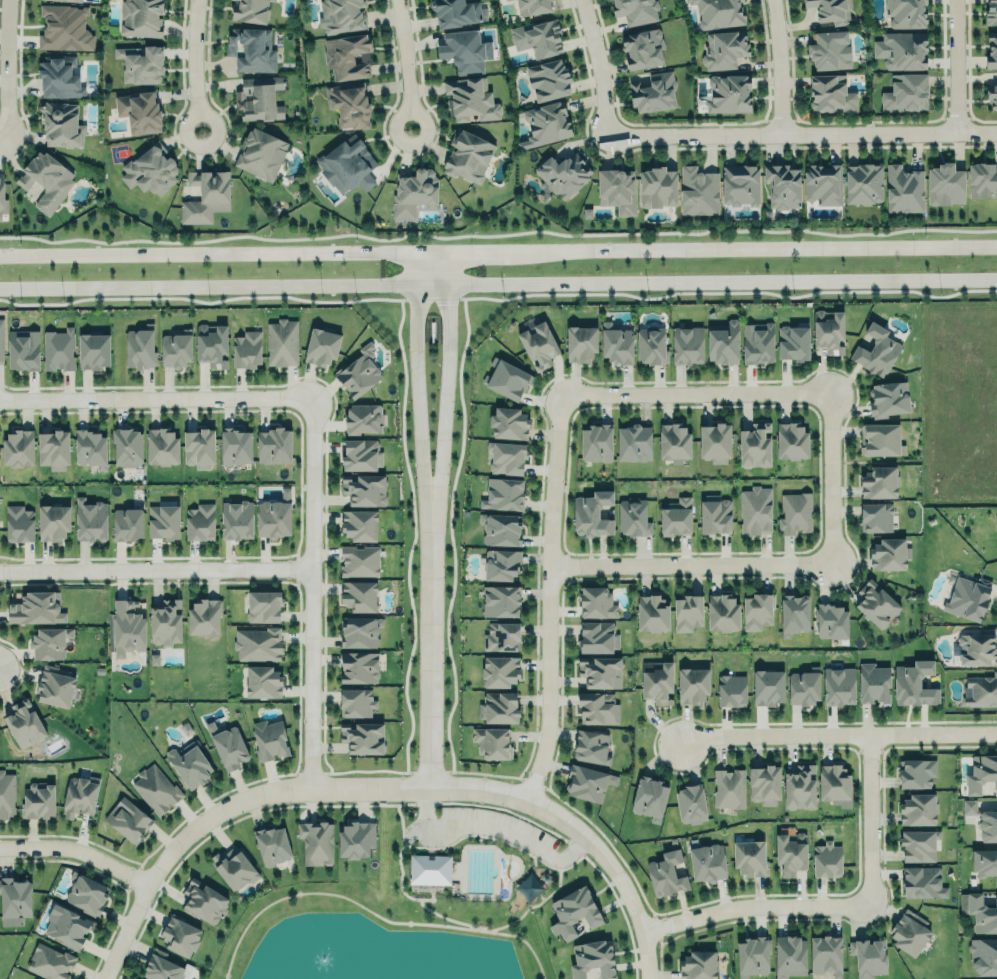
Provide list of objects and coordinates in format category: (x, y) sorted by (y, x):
building: (73, 0)
building: (506, 0)
building: (533, 6)
building: (250, 10)
building: (636, 10)
building: (830, 10)
building: (718, 12)
building: (457, 13)
building: (907, 13)
building: (991, 13)
building: (343, 15)
building: (142, 18)
building: (65, 28)
building: (538, 38)
building: (643, 47)
building: (252, 49)
building: (724, 50)
building: (465, 51)
building: (902, 51)
building: (992, 51)
building: (830, 52)
road: (402, 55)
road: (192, 56)
building: (349, 56)
building: (142, 63)
road: (593, 65)
road: (776, 65)
road: (955, 66)
road: (2, 70)
building: (59, 77)
building: (548, 79)
building: (653, 93)
building: (730, 93)
building: (831, 94)
building: (906, 94)
building: (992, 96)
building: (259, 98)
building: (470, 100)
building: (349, 104)
building: (140, 111)
road: (211, 115)
building: (548, 123)
building: (61, 124)
road: (395, 128)
road: (801, 132)
road: (1, 141)
building: (262, 154)
building: (468, 154)
building: (347, 166)
building: (151, 171)
building: (564, 175)
building: (983, 180)
building: (47, 181)
building: (823, 184)
building: (864, 184)
building: (741, 185)
building: (783, 185)
building: (945, 185)
building: (659, 189)
building: (903, 189)
building: (617, 190)
building: (699, 192)
building: (2, 194)
building: (414, 194)
building: (206, 196)
road: (576, 248)
road: (94, 253)
road: (16, 255)
road: (498, 282)
building: (829, 331)
building: (1, 341)
building: (281, 341)
building: (538, 343)
building: (724, 343)
building: (757, 343)
building: (793, 344)
building: (211, 345)
building: (320, 345)
building: (582, 345)
building: (617, 345)
building: (652, 346)
building: (688, 346)
building: (139, 347)
building: (23, 348)
building: (175, 348)
building: (245, 348)
building: (57, 349)
building: (92, 349)
building: (876, 351)
building: (358, 372)
road: (415, 375)
road: (446, 375)
building: (506, 377)
road: (695, 394)
building: (888, 397)
road: (154, 398)
building: (364, 418)
building: (509, 421)
building: (880, 437)
building: (791, 441)
building: (273, 442)
building: (674, 442)
building: (596, 443)
building: (714, 443)
building: (161, 444)
building: (235, 444)
building: (634, 444)
building: (126, 445)
building: (198, 445)
building: (17, 446)
building: (90, 446)
building: (53, 447)
building: (755, 447)
building: (361, 452)
building: (506, 455)
road: (831, 478)
building: (879, 482)
building: (364, 489)
building: (503, 492)
building: (755, 509)
building: (795, 511)
building: (592, 512)
building: (715, 514)
building: (875, 515)
building: (633, 516)
building: (89, 517)
building: (273, 517)
building: (675, 517)
building: (236, 519)
building: (52, 520)
building: (163, 520)
building: (200, 520)
building: (18, 521)
building: (127, 522)
building: (358, 522)
building: (501, 529)
building: (889, 554)
building: (359, 560)
building: (501, 561)
road: (691, 565)
road: (154, 570)
road: (308, 591)
building: (358, 595)
building: (967, 596)
road: (549, 598)
building: (500, 599)
building: (595, 601)
building: (876, 604)
building: (263, 606)
building: (38, 608)
building: (687, 611)
building: (756, 611)
building: (723, 612)
building: (652, 613)
building: (794, 613)
building: (204, 617)
building: (831, 621)
building: (165, 622)
building: (127, 628)
building: (360, 631)
building: (501, 635)
building: (598, 637)
building: (49, 641)
building: (258, 643)
road: (428, 643)
building: (977, 649)
building: (358, 666)
building: (499, 670)
building: (600, 670)
building: (263, 680)
building: (657, 681)
building: (873, 682)
building: (914, 682)
building: (693, 684)
building: (55, 685)
building: (767, 686)
building: (803, 686)
building: (838, 686)
building: (731, 689)
building: (980, 690)
building: (355, 701)
building: (499, 706)
building: (598, 708)
building: (24, 723)
road: (835, 733)
building: (361, 736)
building: (269, 739)
building: (492, 741)
building: (227, 744)
building: (591, 745)
building: (190, 763)
building: (981, 772)
building: (916, 773)
building: (588, 782)
building: (835, 783)
building: (765, 784)
building: (799, 786)
building: (729, 787)
building: (155, 788)
building: (7, 795)
building: (79, 795)
building: (649, 798)
building: (38, 800)
building: (690, 804)
building: (969, 806)
road: (495, 807)
building: (918, 808)
road: (223, 810)
road: (398, 814)
road: (867, 819)
building: (127, 820)
road: (490, 824)
building: (988, 825)
parking lot: (485, 830)
road: (580, 832)
building: (356, 837)
road: (480, 839)
building: (316, 842)
building: (272, 844)
building: (919, 844)
road: (430, 850)
road: (78, 852)
building: (791, 852)
building: (749, 856)
building: (827, 858)
road: (577, 859)
building: (707, 861)
road: (533, 862)
building: (984, 862)
building: (233, 866)
water park: (484, 871)
building: (430, 873)
building: (665, 873)
building: (923, 881)
building: (86, 892)
road: (541, 896)
building: (15, 897)
road: (420, 899)
road: (429, 899)
building: (205, 902)
park: (415, 903)
road: (754, 906)
road: (372, 912)
building: (573, 912)
building: (979, 912)
building: (66, 924)
building: (910, 931)
building: (180, 935)
building: (826, 954)
building: (789, 955)
building: (983, 955)
building: (752, 956)
building: (868, 956)
building: (592, 959)
building: (50, 961)
fountain: (318, 963)
building: (698, 964)
building: (161, 968)

